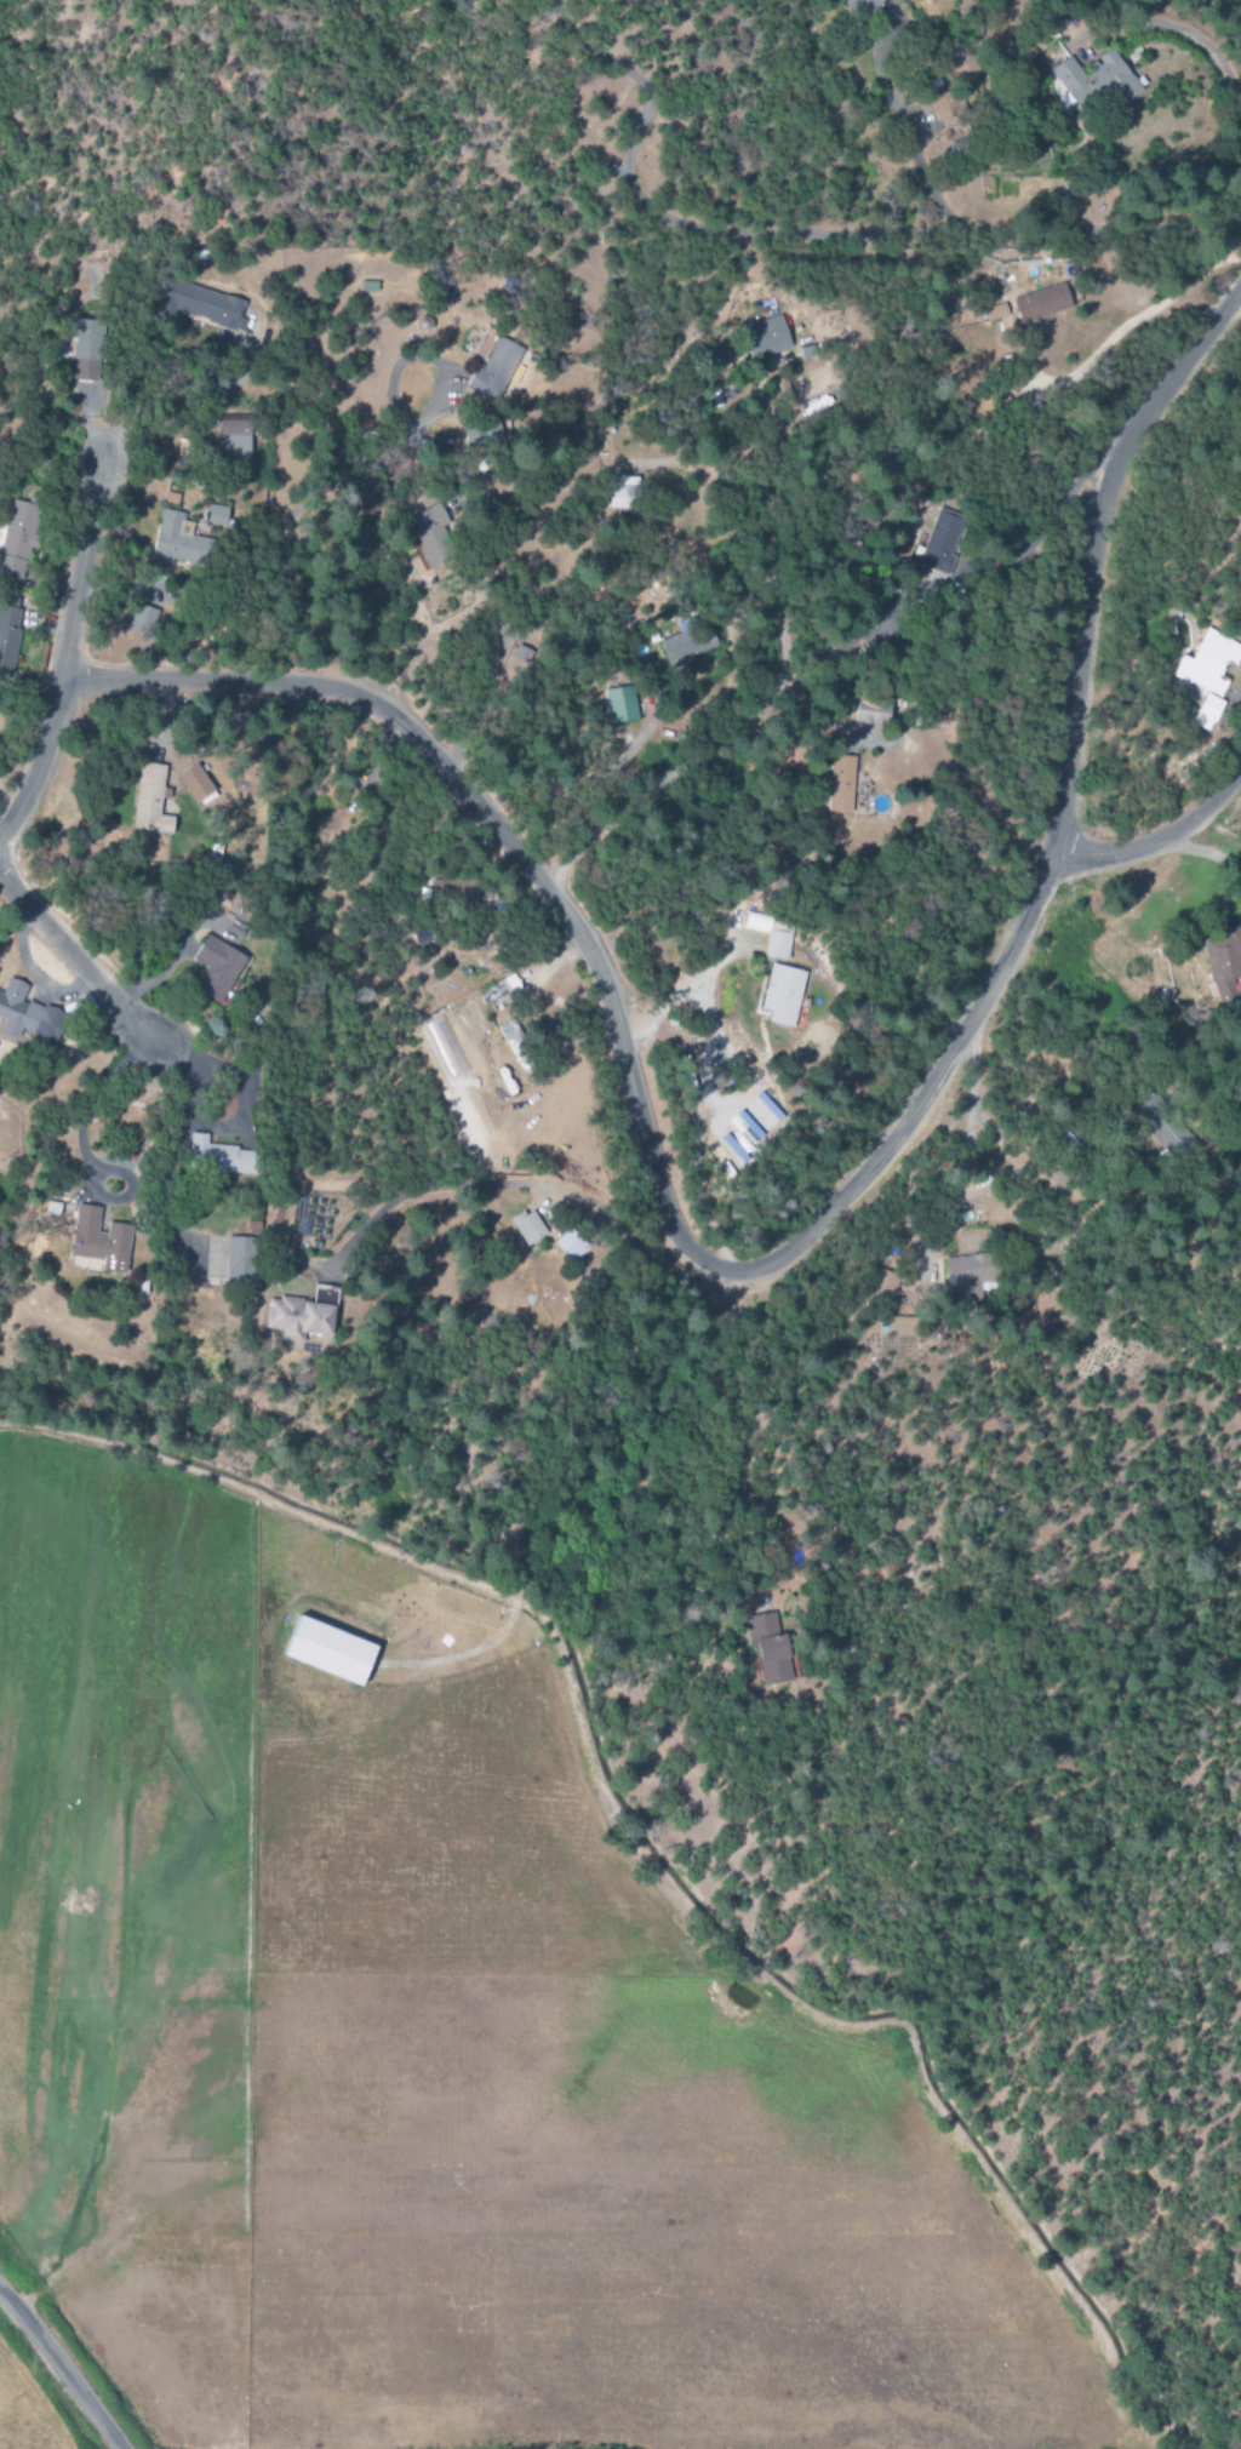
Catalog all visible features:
building: (863, 5)
road: (1172, 27)
building: (1096, 79)
building: (947, 108)
road: (813, 234)
building: (1041, 303)
building: (199, 305)
building: (767, 337)
building: (84, 350)
building: (493, 371)
building: (233, 439)
building: (622, 492)
road: (1041, 527)
building: (430, 534)
building: (170, 538)
building: (17, 539)
building: (940, 542)
building: (141, 619)
building: (686, 645)
road: (68, 648)
building: (1207, 663)
building: (620, 704)
building: (871, 711)
building: (1206, 713)
building: (194, 783)
building: (841, 784)
building: (149, 801)
road: (1058, 820)
road: (1160, 837)
road: (504, 839)
building: (458, 888)
building: (770, 937)
road: (76, 959)
building: (1224, 961)
building: (217, 968)
building: (783, 995)
building: (27, 1014)
building: (762, 1116)
building: (1154, 1120)
building: (217, 1156)
building: (527, 1228)
building: (99, 1241)
building: (570, 1246)
building: (240, 1260)
building: (966, 1276)
building: (881, 1286)
building: (303, 1318)
building: (899, 1327)
building: (328, 1652)
building: (771, 1652)
crop: (428, 2045)
road: (62, 2368)

